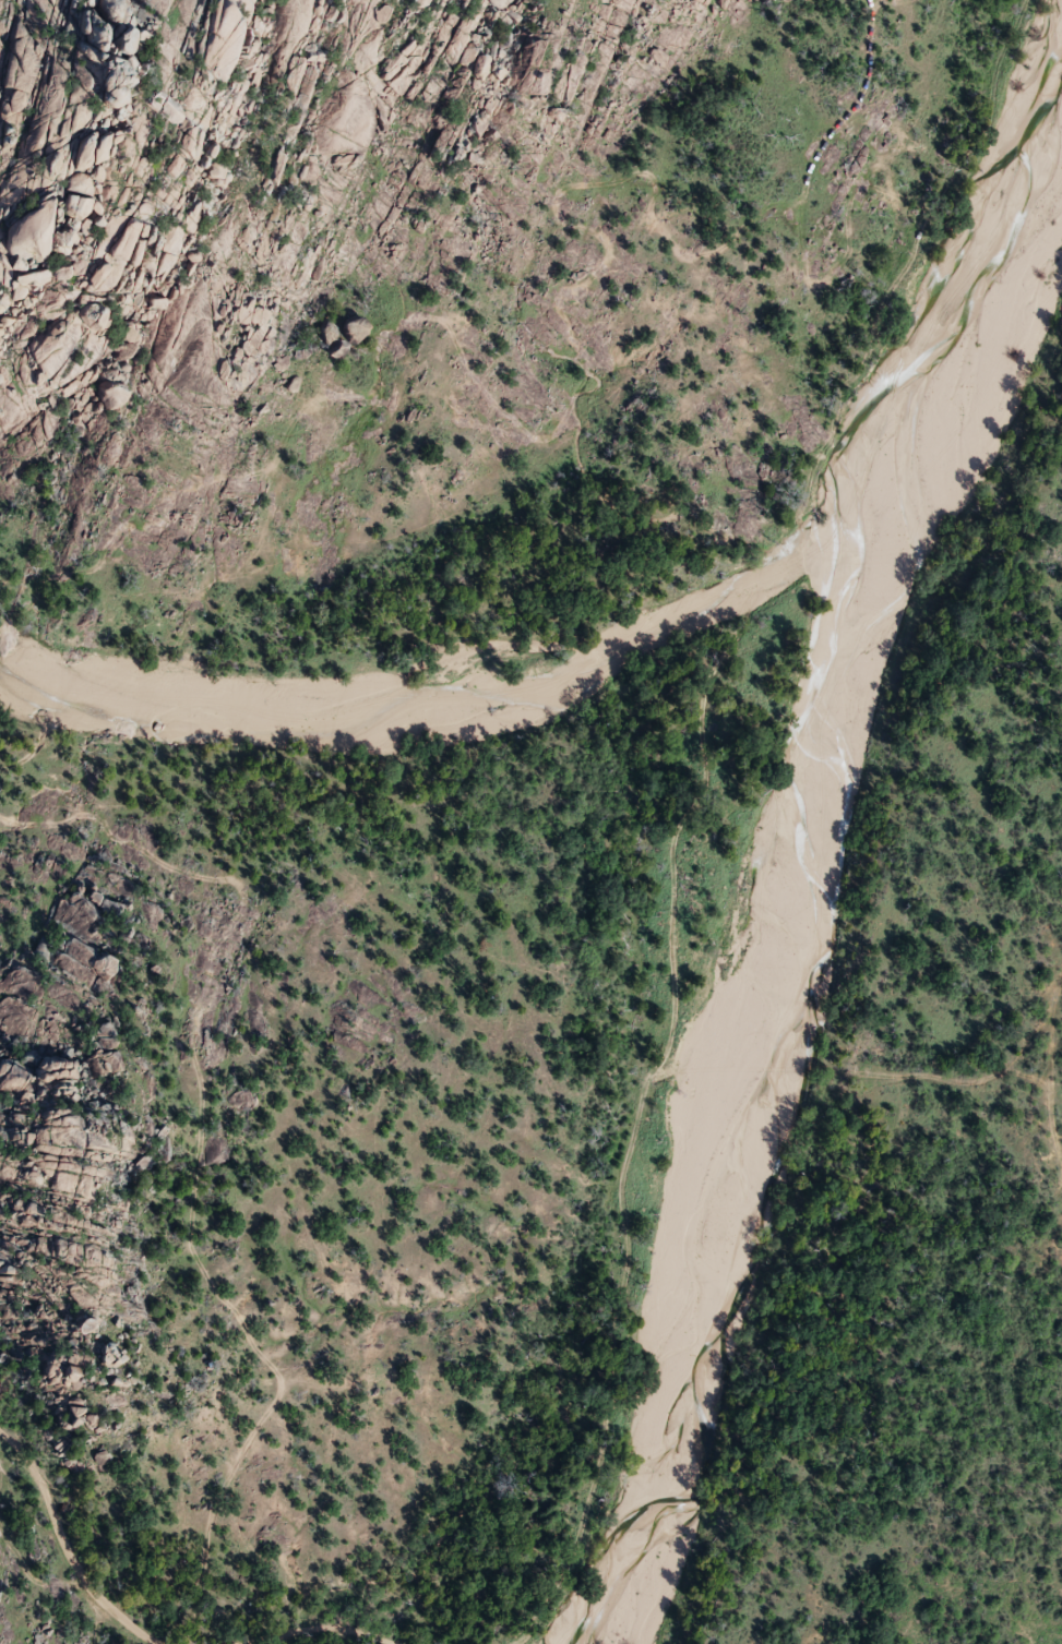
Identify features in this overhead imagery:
river: (820, 859)
building: (13, 1077)

